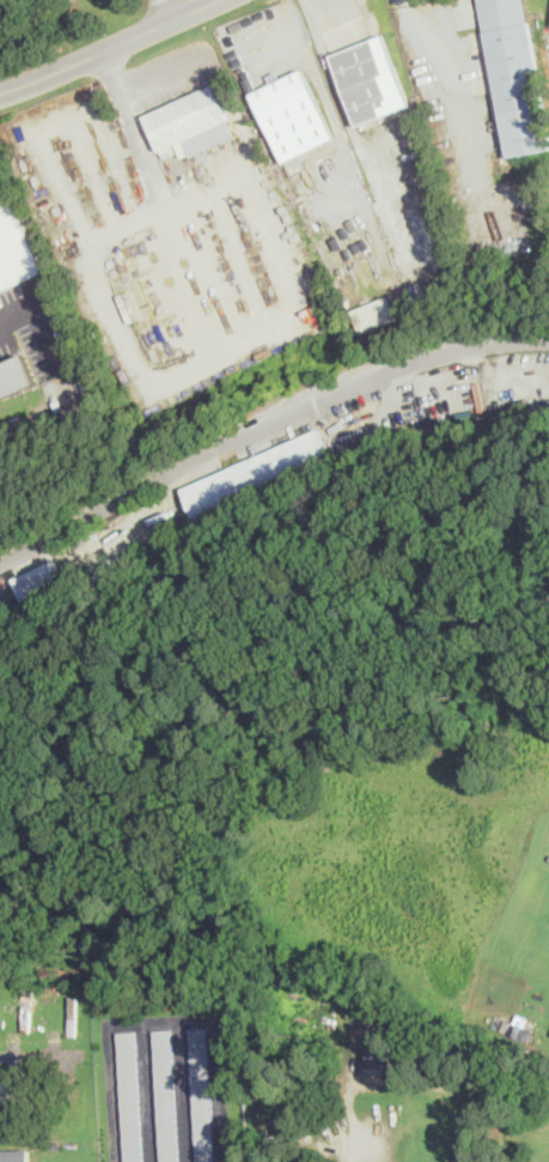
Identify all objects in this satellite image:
road: (335, 8)
road: (164, 11)
road: (106, 47)
road: (315, 53)
building: (514, 75)
building: (371, 78)
road: (146, 80)
road: (462, 81)
building: (292, 114)
building: (190, 123)
building: (14, 246)
building: (376, 313)
road: (33, 325)
building: (16, 375)
road: (266, 425)
building: (256, 476)
building: (39, 581)
road: (167, 1021)
building: (377, 1055)
road: (183, 1091)
road: (148, 1093)
building: (202, 1094)
building: (166, 1095)
building: (132, 1096)
building: (7, 1100)
road: (349, 1119)
building: (14, 1155)
building: (464, 1157)

